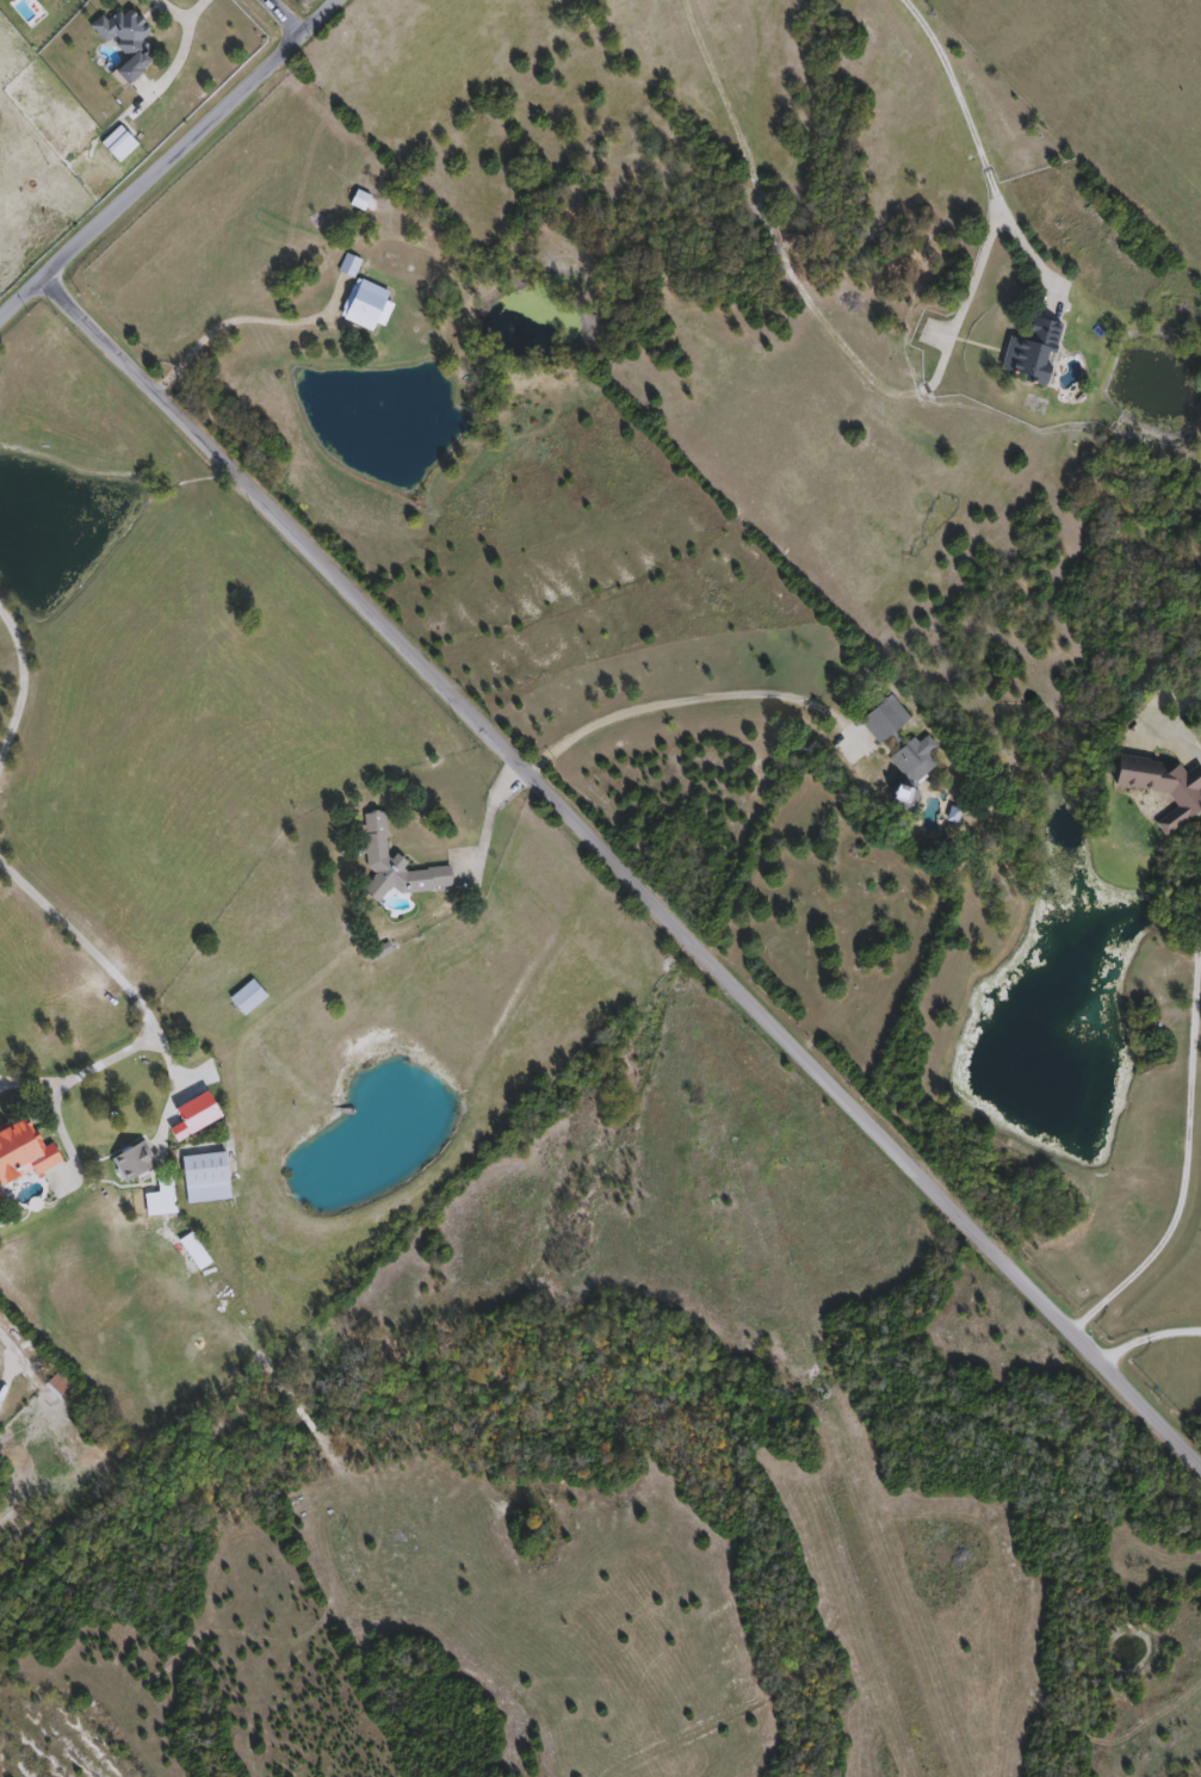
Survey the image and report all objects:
road: (285, 17)
building: (128, 41)
road: (979, 143)
building: (120, 144)
road: (168, 159)
building: (351, 265)
building: (370, 307)
road: (229, 321)
road: (815, 322)
building: (1034, 352)
road: (20, 680)
road: (686, 698)
building: (886, 720)
building: (912, 772)
building: (1165, 788)
building: (397, 866)
road: (624, 872)
park: (831, 914)
road: (86, 941)
building: (249, 998)
building: (24, 1154)
road: (1187, 1156)
building: (136, 1162)
building: (208, 1178)
road: (1147, 1335)
building: (61, 1388)

